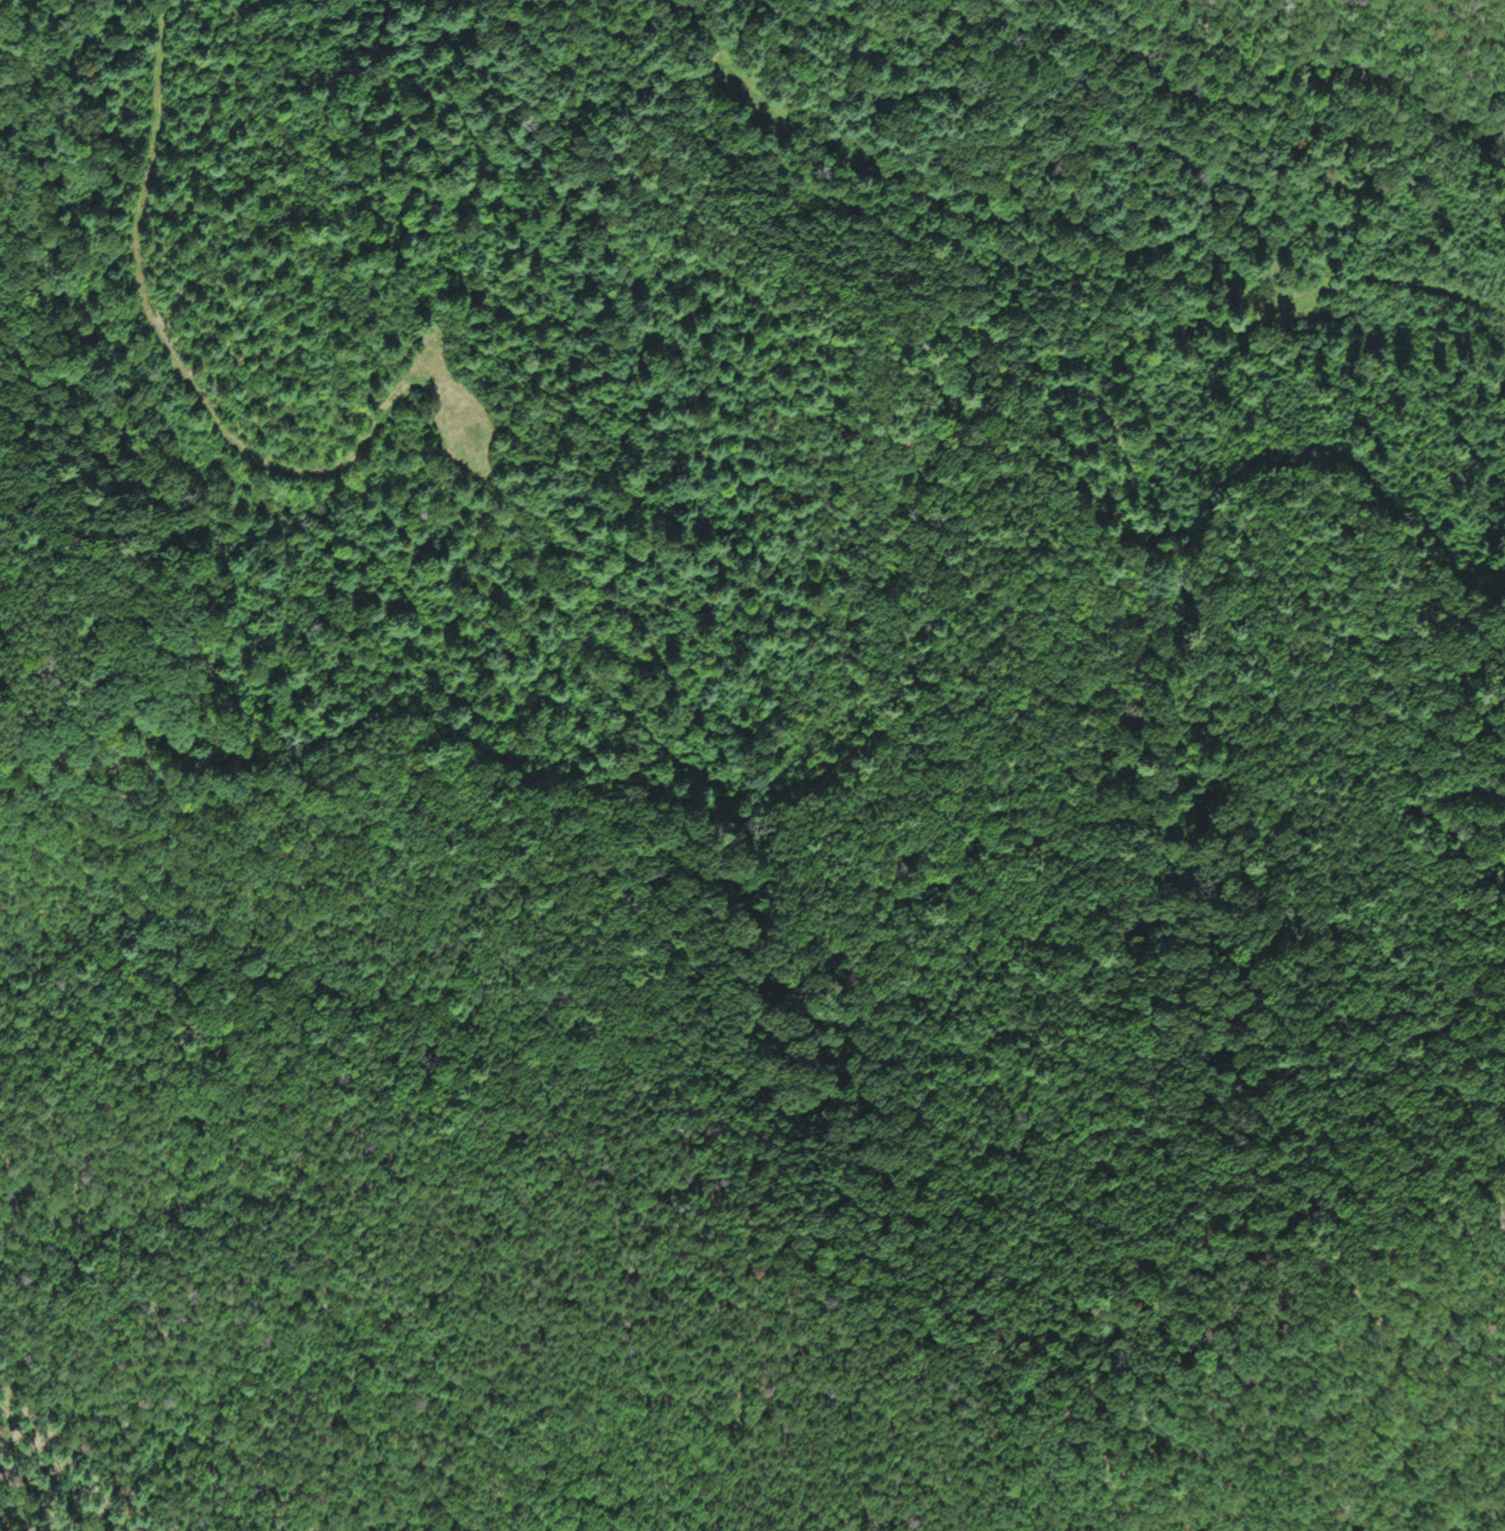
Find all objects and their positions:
road: (1018, 250)

